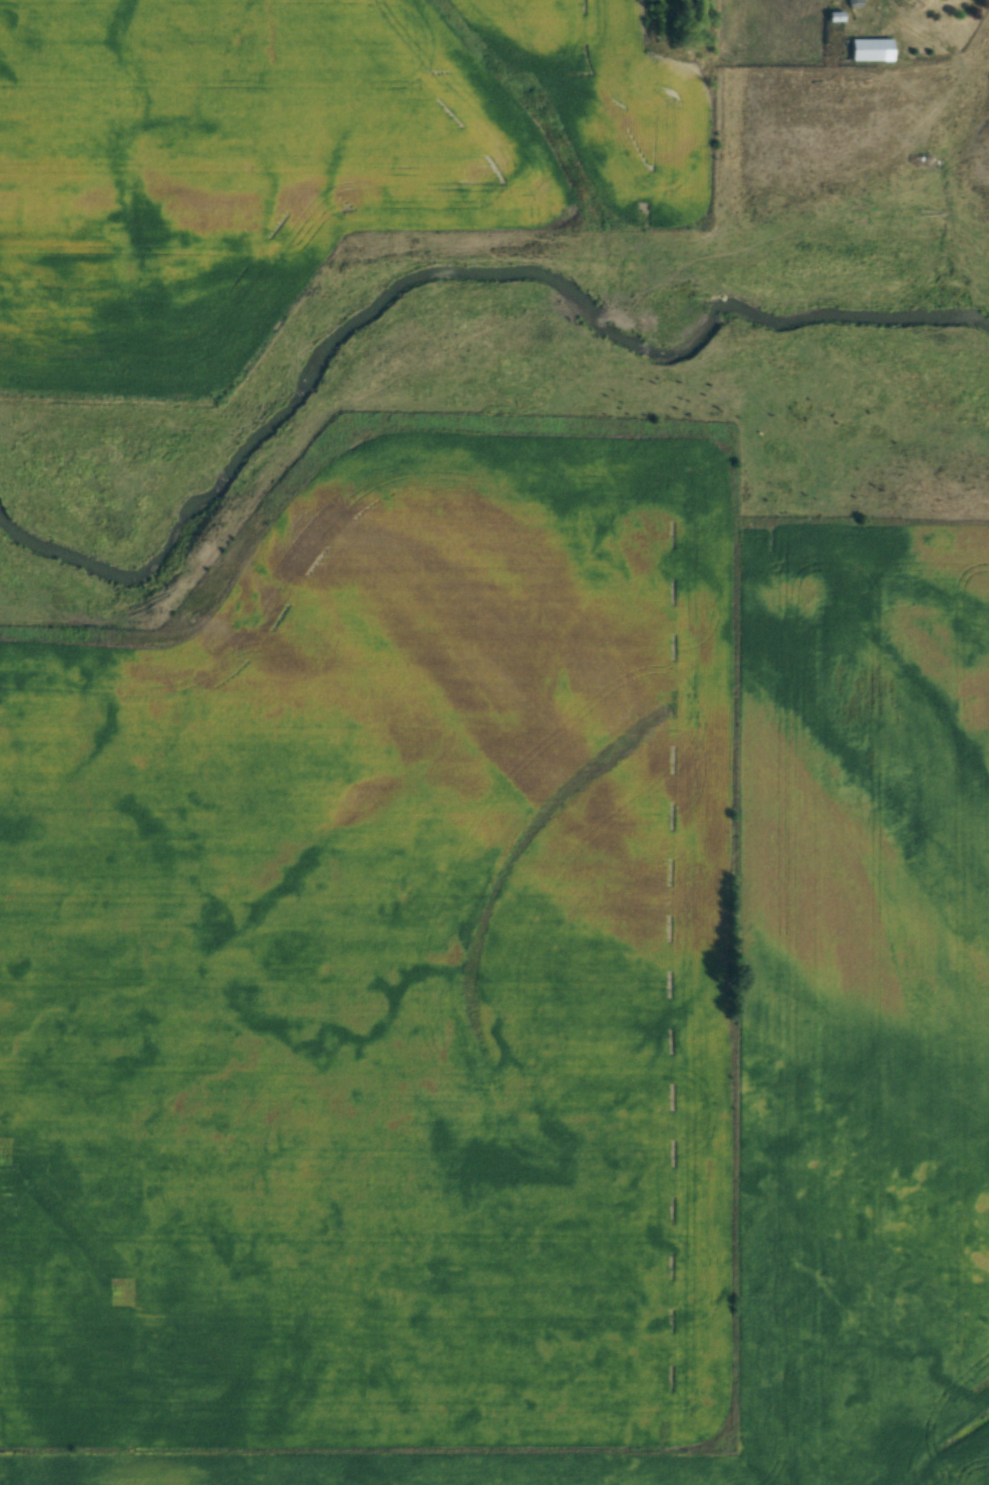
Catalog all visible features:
building: (832, 18)
building: (866, 51)

